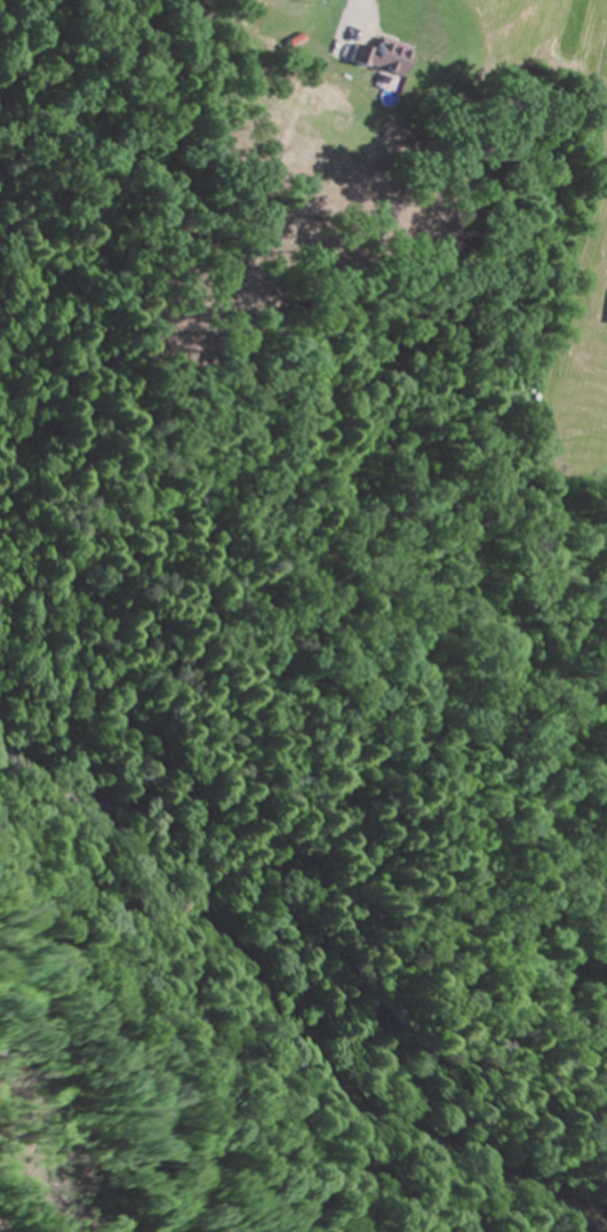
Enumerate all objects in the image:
building: (389, 57)

